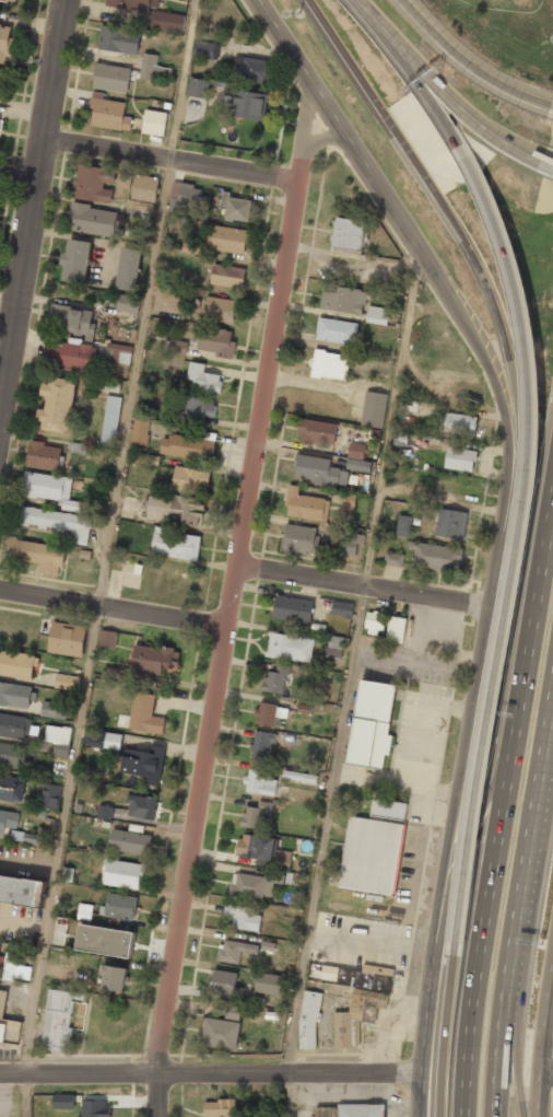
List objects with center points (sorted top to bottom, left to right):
building: (10, 0)
road: (360, 3)
building: (134, 4)
street lamp: (298, 14)
building: (167, 22)
building: (119, 39)
building: (5, 45)
building: (205, 49)
road: (471, 63)
road: (407, 67)
building: (0, 69)
building: (153, 69)
building: (254, 70)
building: (111, 78)
building: (198, 88)
road: (446, 94)
building: (246, 104)
building: (109, 113)
road: (306, 120)
building: (0, 121)
building: (154, 123)
road: (319, 139)
road: (168, 158)
road: (549, 163)
road: (17, 176)
building: (123, 179)
building: (93, 183)
building: (142, 196)
building: (188, 199)
road: (31, 200)
road: (385, 201)
building: (235, 208)
building: (93, 220)
road: (454, 224)
building: (350, 234)
building: (230, 240)
building: (75, 261)
building: (129, 269)
building: (227, 276)
building: (166, 299)
building: (343, 299)
building: (128, 303)
building: (220, 309)
building: (377, 315)
building: (72, 321)
building: (337, 330)
building: (216, 342)
building: (177, 348)
building: (118, 353)
building: (73, 356)
building: (330, 364)
building: (203, 379)
building: (108, 385)
building: (57, 405)
building: (408, 405)
building: (196, 409)
building: (374, 409)
building: (110, 421)
building: (460, 423)
building: (140, 431)
building: (317, 431)
building: (400, 438)
building: (186, 445)
building: (43, 455)
building: (357, 458)
building: (459, 458)
building: (319, 470)
building: (190, 480)
building: (46, 486)
building: (348, 501)
building: (306, 505)
building: (175, 509)
building: (57, 522)
building: (450, 523)
building: (403, 525)
road: (520, 534)
building: (299, 538)
building: (350, 543)
building: (176, 545)
building: (435, 555)
building: (40, 556)
road: (106, 558)
building: (392, 559)
road: (543, 580)
road: (362, 584)
road: (113, 608)
building: (342, 608)
building: (292, 609)
building: (374, 621)
building: (396, 629)
road: (224, 633)
building: (107, 638)
building: (67, 639)
building: (290, 647)
building: (333, 648)
building: (156, 660)
building: (17, 664)
building: (113, 673)
building: (275, 679)
building: (66, 682)
road: (348, 684)
building: (15, 695)
building: (54, 710)
building: (266, 713)
building: (144, 714)
building: (372, 724)
building: (14, 725)
building: (58, 734)
building: (102, 738)
building: (261, 745)
building: (61, 749)
building: (10, 755)
building: (144, 763)
road: (460, 763)
road: (490, 775)
building: (297, 777)
building: (260, 782)
building: (11, 788)
building: (49, 795)
building: (141, 806)
building: (388, 808)
building: (104, 812)
building: (255, 816)
building: (8, 819)
road: (530, 827)
building: (37, 837)
building: (130, 841)
building: (257, 848)
building: (370, 856)
building: (283, 857)
building: (122, 873)
road: (496, 880)
building: (251, 885)
building: (22, 889)
building: (119, 907)
building: (242, 918)
building: (105, 941)
building: (234, 951)
building: (1, 962)
building: (9, 970)
building: (358, 977)
building: (113, 978)
building: (272, 984)
building: (225, 985)
building: (233, 1011)
building: (356, 1016)
building: (58, 1017)
building: (308, 1019)
building: (7, 1023)
building: (221, 1034)
road: (444, 1034)
road: (502, 1050)
road: (517, 1050)
road: (543, 1060)
road: (548, 1070)
road: (209, 1071)
building: (63, 1101)
building: (95, 1108)
building: (219, 1108)
building: (350, 1113)

